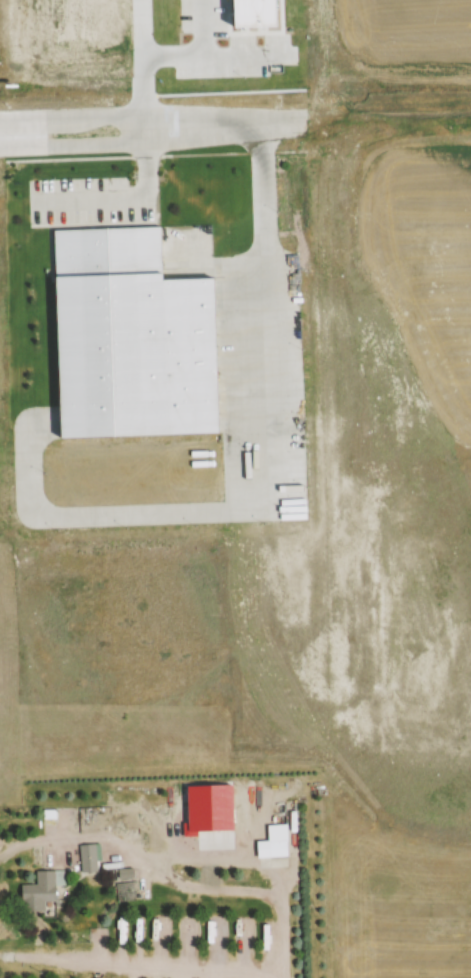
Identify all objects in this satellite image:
road: (73, 119)
road: (240, 124)
road: (75, 147)
building: (138, 340)
building: (50, 814)
building: (123, 814)
building: (277, 840)
building: (88, 858)
building: (42, 890)
building: (125, 891)
road: (139, 964)

